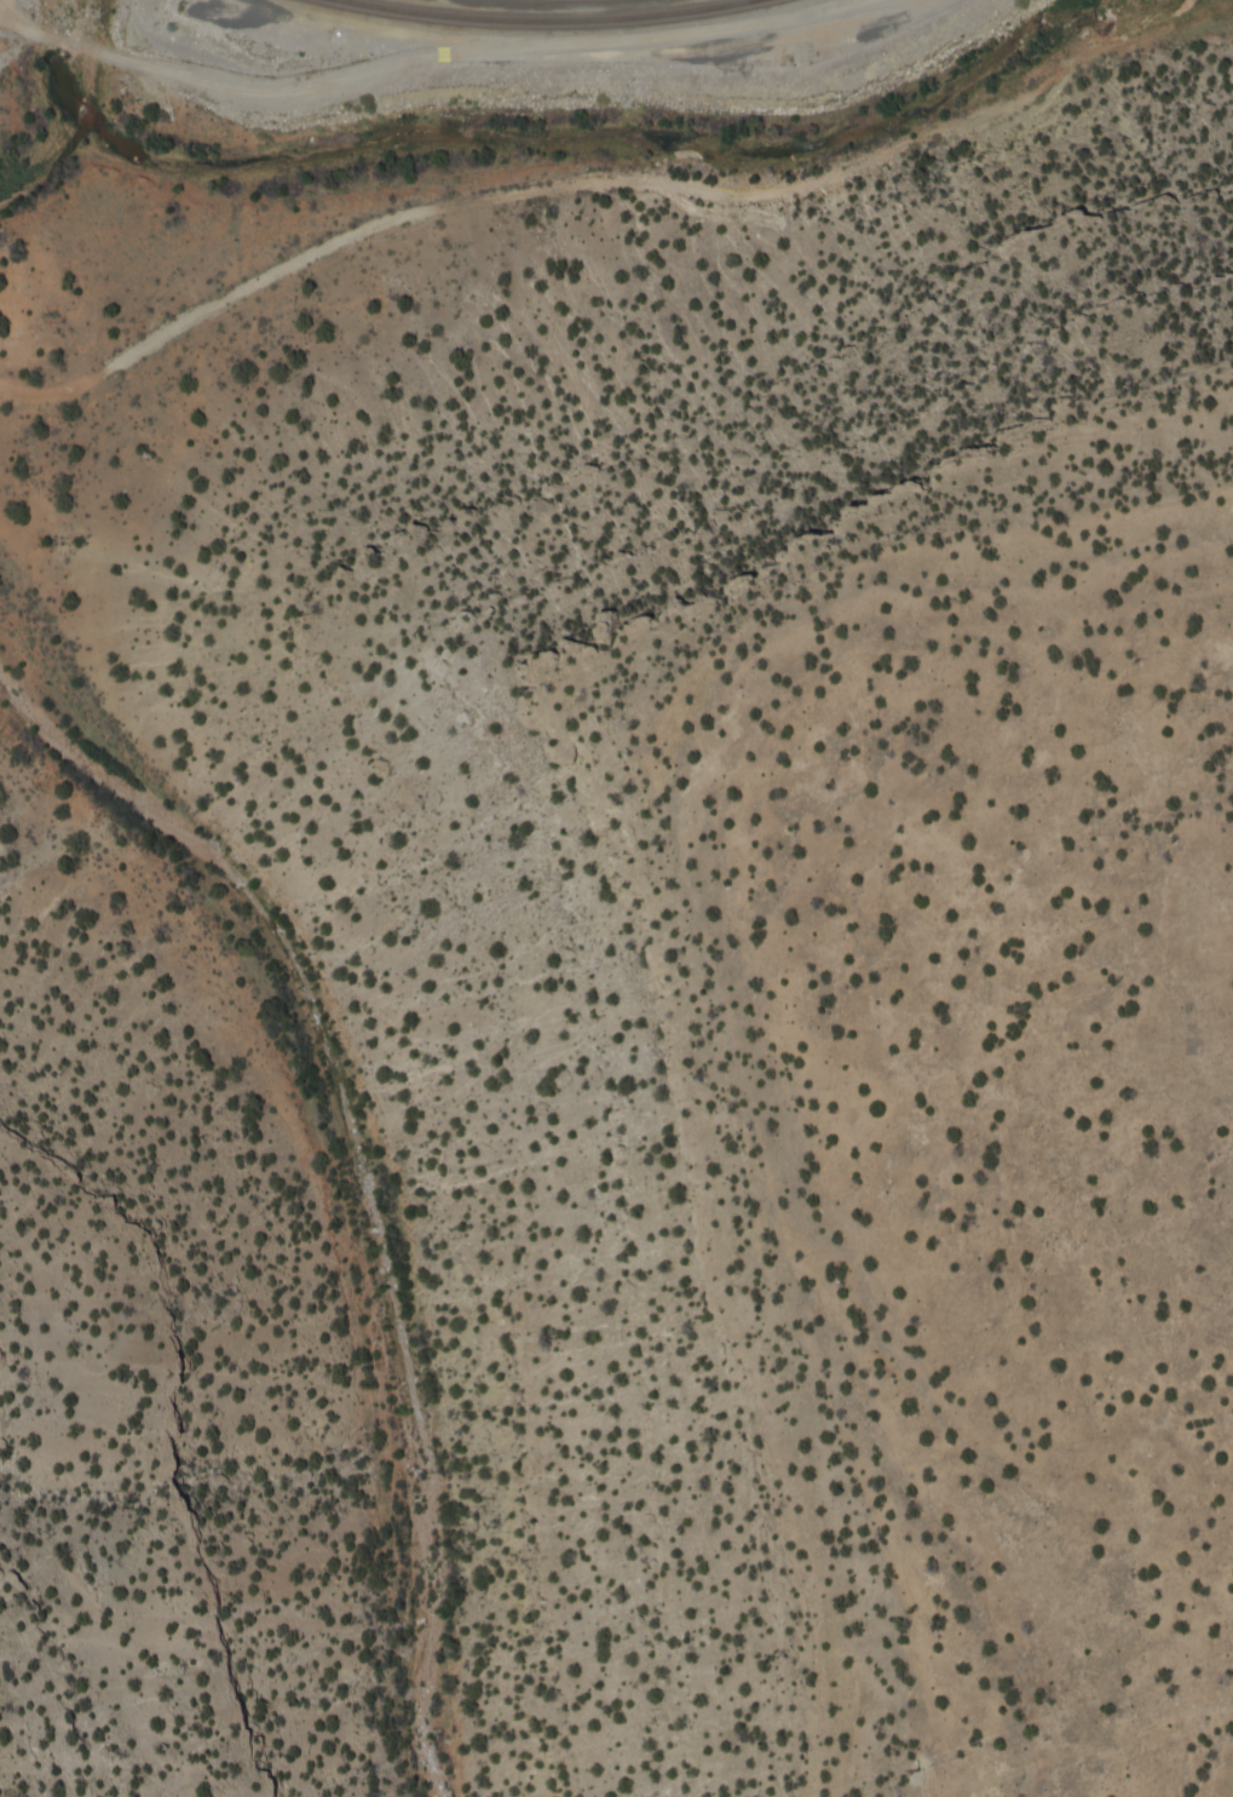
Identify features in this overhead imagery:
railway: (542, 24)

